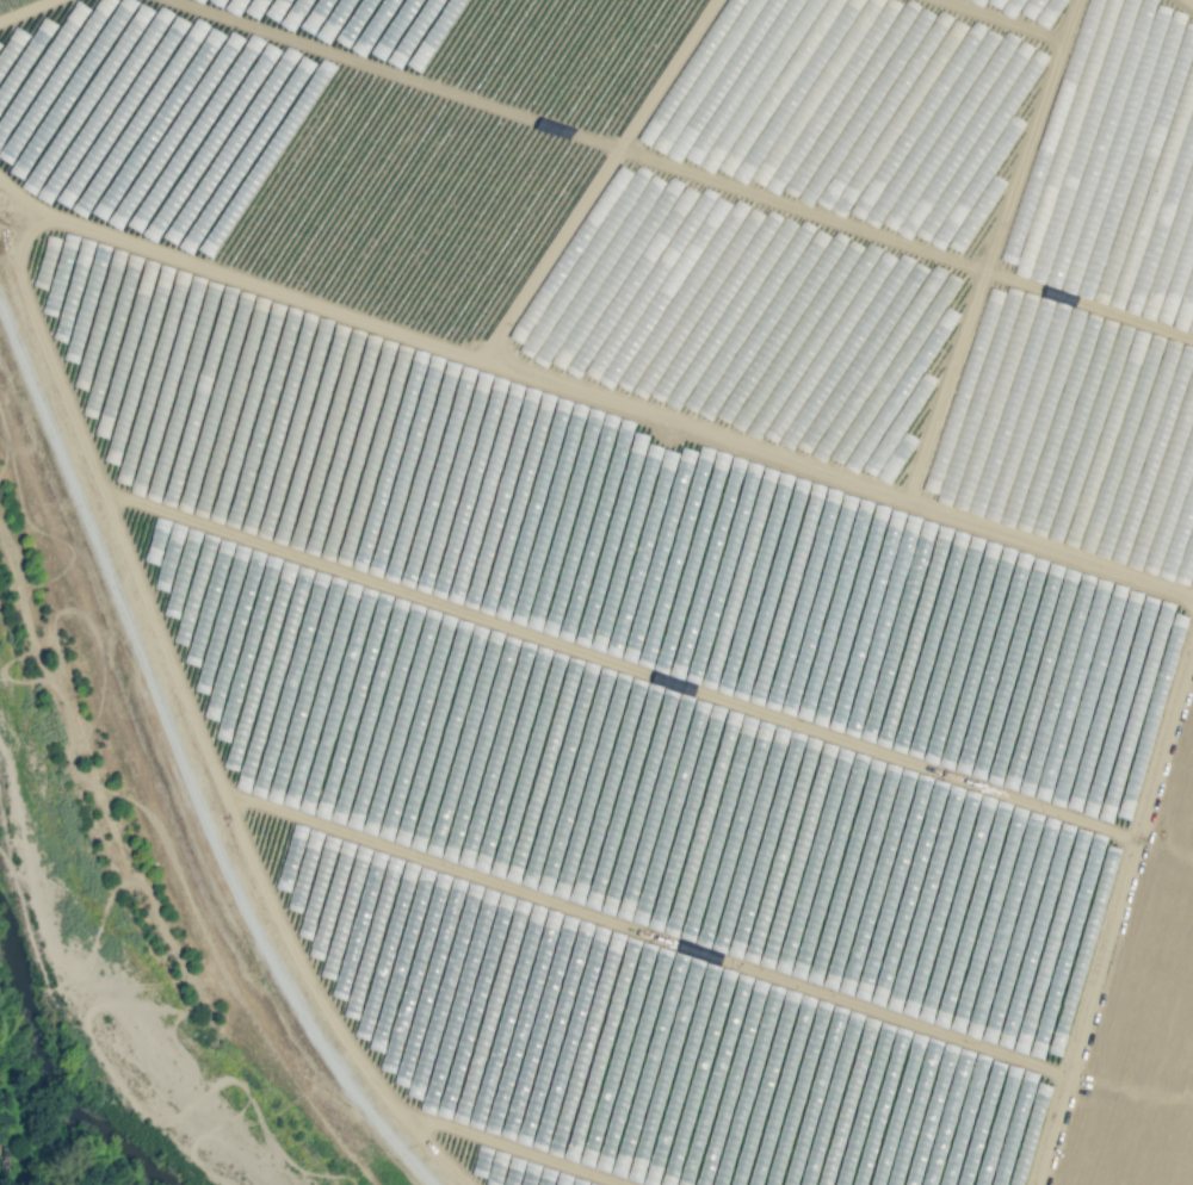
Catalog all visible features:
road: (37, 14)
crop: (701, 212)
road: (592, 398)
road: (197, 720)
road: (1115, 922)
road: (1131, 1093)
river: (45, 1116)
crop: (5, 1172)

